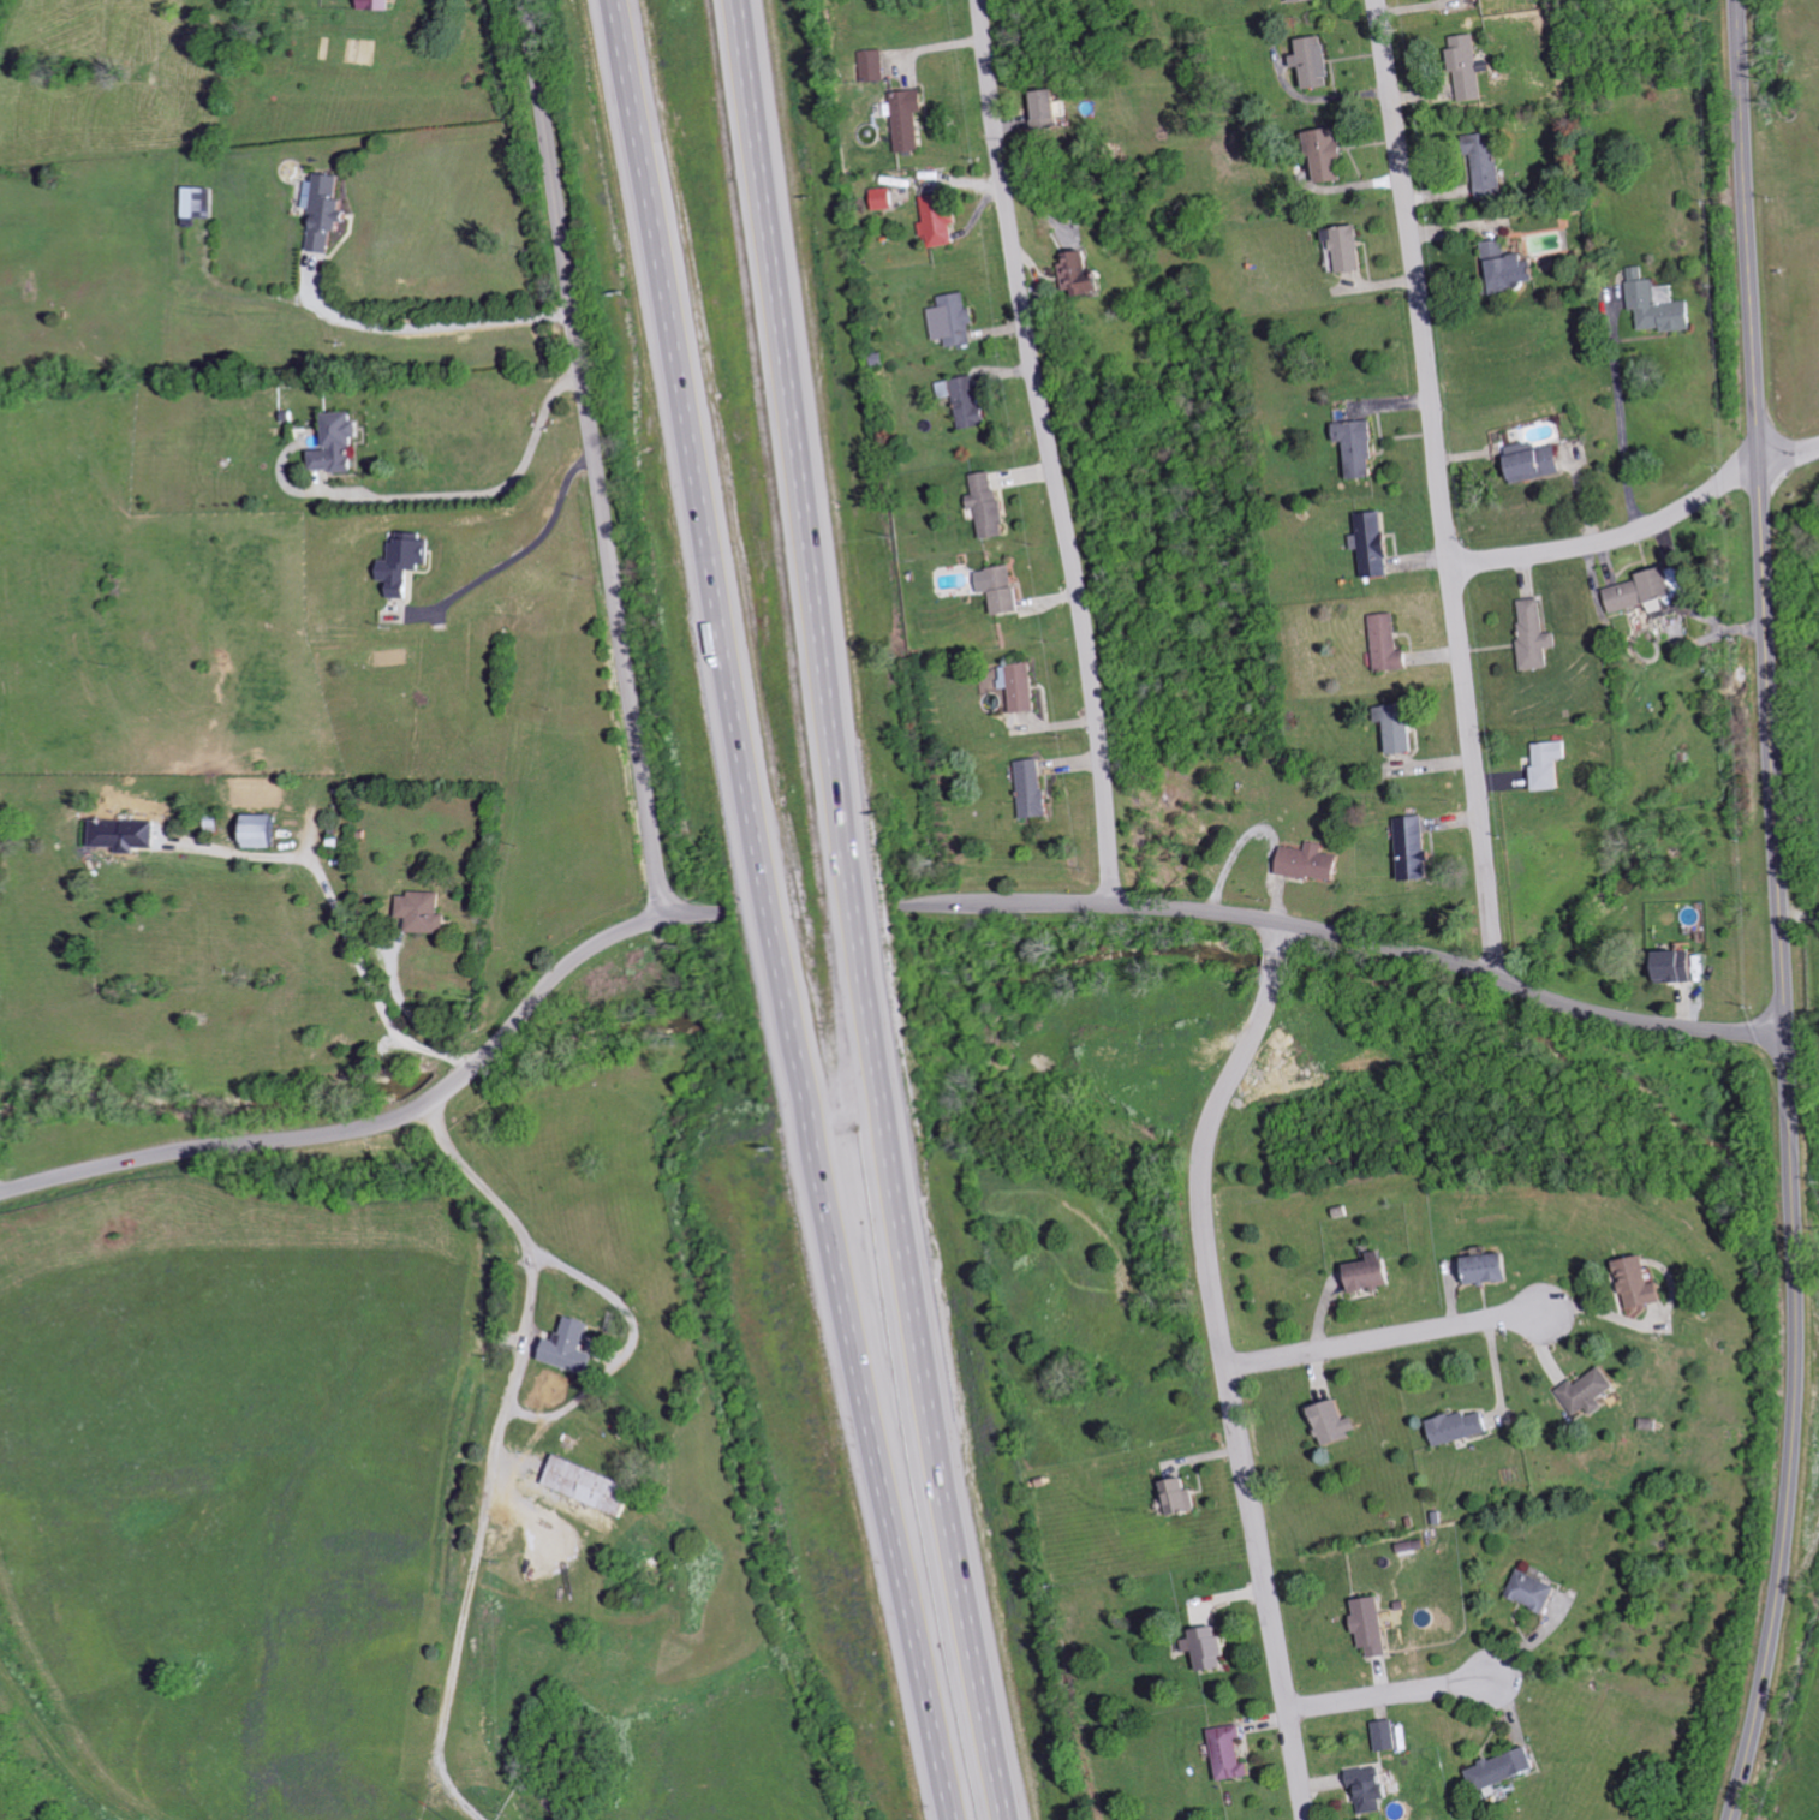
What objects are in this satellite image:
building: (1302, 0)
building: (381, 5)
building: (1317, 62)
building: (876, 65)
building: (1471, 67)
building: (1056, 109)
building: (912, 119)
building: (1331, 156)
building: (1491, 165)
building: (888, 198)
building: (201, 202)
building: (329, 209)
building: (943, 220)
building: (1513, 268)
building: (1090, 275)
building: (1660, 305)
building: (958, 320)
road: (437, 324)
building: (970, 400)
road: (1620, 426)
building: (342, 443)
building: (1362, 447)
road: (1054, 449)
road: (1789, 455)
road: (595, 457)
building: (1538, 461)
road: (1439, 487)
road: (488, 490)
building: (992, 505)
road: (1611, 537)
building: (1374, 544)
road: (533, 548)
building: (407, 563)
building: (1009, 590)
building: (1646, 591)
building: (1537, 633)
building: (1390, 643)
building: (1024, 685)
building: (1403, 727)
building: (1552, 763)
building: (1037, 787)
building: (267, 829)
building: (127, 834)
building: (1415, 847)
building: (1312, 861)
building: (428, 911)
road: (771, 912)
road: (858, 912)
road: (1779, 912)
road: (344, 924)
road: (1346, 935)
building: (1682, 965)
road: (411, 1013)
road: (396, 1117)
road: (1, 1194)
building: (1493, 1267)
building: (1377, 1272)
building: (1647, 1282)
road: (1380, 1342)
building: (575, 1345)
road: (1224, 1365)
building: (1593, 1391)
building: (1337, 1421)
building: (1462, 1426)
building: (596, 1485)
road: (494, 1487)
building: (1182, 1497)
building: (1538, 1591)
building: (1373, 1624)
building: (1211, 1647)
road: (1389, 1696)
building: (1388, 1735)
building: (1231, 1752)
building: (1508, 1768)
building: (1372, 1789)

